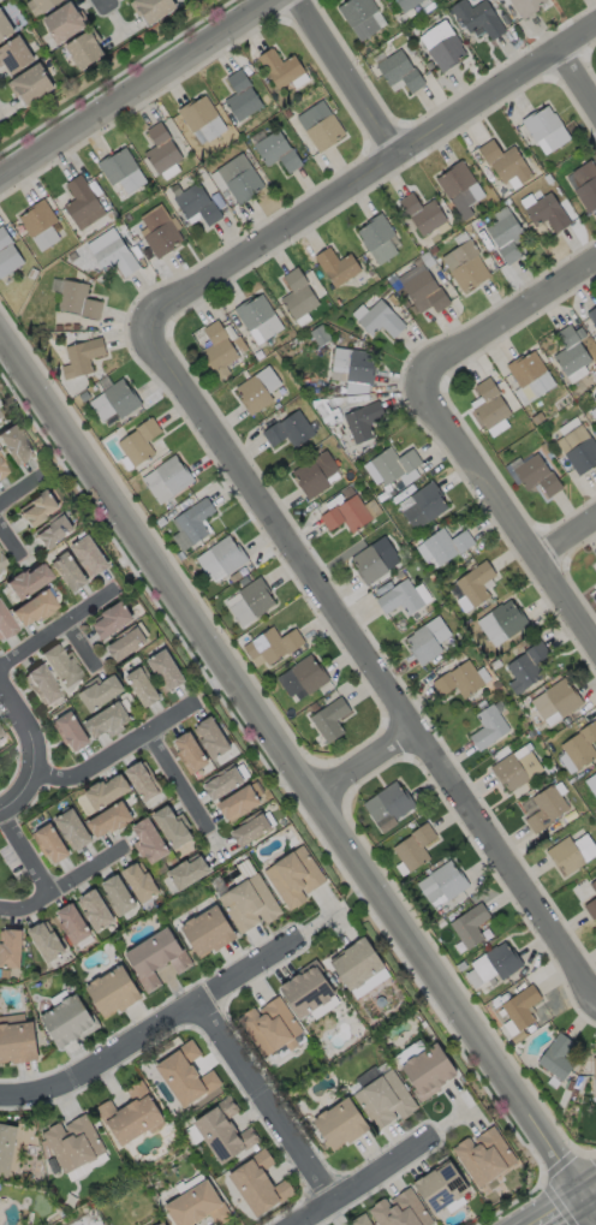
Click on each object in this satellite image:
road: (106, 2)
building: (407, 4)
building: (48, 5)
building: (526, 6)
building: (155, 8)
building: (363, 18)
building: (481, 20)
building: (65, 23)
building: (5, 26)
building: (445, 47)
building: (87, 50)
building: (17, 55)
building: (281, 69)
building: (400, 71)
road: (115, 76)
road: (348, 76)
road: (578, 79)
building: (31, 85)
road: (138, 90)
building: (244, 99)
building: (204, 119)
building: (320, 126)
building: (549, 130)
building: (162, 149)
building: (279, 150)
building: (506, 163)
building: (123, 172)
road: (366, 174)
building: (242, 178)
building: (585, 184)
building: (461, 194)
building: (197, 203)
building: (84, 204)
building: (424, 215)
building: (548, 215)
building: (43, 226)
building: (160, 233)
building: (505, 237)
building: (381, 240)
building: (8, 255)
building: (113, 257)
building: (467, 267)
building: (339, 268)
building: (427, 290)
building: (298, 293)
building: (74, 301)
building: (595, 310)
building: (594, 316)
road: (506, 317)
building: (261, 319)
building: (382, 320)
building: (223, 347)
building: (574, 356)
building: (83, 359)
building: (353, 367)
building: (532, 380)
building: (255, 396)
building: (120, 403)
building: (494, 410)
building: (595, 414)
building: (595, 418)
building: (364, 421)
building: (291, 432)
building: (141, 445)
building: (14, 447)
building: (580, 451)
building: (397, 466)
building: (1, 471)
building: (318, 475)
building: (540, 477)
building: (166, 480)
road: (23, 492)
building: (425, 506)
building: (37, 509)
road: (505, 511)
building: (348, 516)
building: (193, 524)
building: (53, 531)
road: (566, 539)
road: (8, 543)
building: (447, 548)
building: (90, 557)
building: (221, 559)
building: (376, 561)
building: (0, 565)
building: (68, 573)
building: (594, 576)
building: (25, 582)
building: (472, 589)
building: (404, 599)
building: (251, 603)
building: (30, 609)
building: (113, 620)
building: (505, 624)
building: (4, 625)
road: (58, 629)
building: (428, 642)
building: (127, 644)
building: (275, 646)
road: (79, 647)
road: (369, 662)
building: (496, 665)
building: (58, 666)
building: (526, 670)
building: (166, 672)
building: (303, 679)
building: (464, 680)
building: (38, 685)
building: (143, 689)
building: (97, 696)
building: (556, 704)
building: (327, 721)
building: (106, 722)
building: (490, 731)
building: (68, 733)
building: (0, 736)
building: (214, 738)
building: (582, 750)
road: (114, 753)
building: (190, 753)
road: (29, 755)
road: (291, 760)
road: (365, 765)
building: (519, 771)
road: (175, 781)
building: (141, 783)
building: (225, 784)
building: (591, 785)
building: (107, 792)
building: (239, 804)
building: (391, 807)
building: (547, 809)
building: (109, 822)
building: (172, 827)
building: (72, 832)
building: (252, 832)
building: (150, 840)
building: (49, 845)
building: (415, 850)
road: (25, 854)
building: (572, 855)
building: (169, 860)
building: (243, 870)
building: (190, 874)
building: (297, 878)
building: (451, 881)
building: (141, 882)
building: (594, 886)
road: (62, 887)
building: (118, 896)
building: (250, 906)
building: (592, 910)
building: (96, 912)
building: (72, 926)
building: (207, 929)
building: (470, 929)
building: (44, 944)
building: (10, 951)
building: (157, 961)
building: (360, 967)
building: (497, 967)
building: (310, 993)
building: (113, 994)
building: (546, 1007)
building: (521, 1010)
building: (70, 1023)
road: (151, 1028)
building: (273, 1028)
building: (18, 1045)
building: (558, 1059)
building: (431, 1072)
building: (595, 1072)
building: (189, 1075)
road: (264, 1101)
building: (386, 1101)
building: (133, 1118)
building: (342, 1126)
building: (227, 1132)
building: (77, 1146)
building: (8, 1149)
building: (485, 1158)
road: (364, 1181)
building: (262, 1188)
building: (443, 1189)
road: (591, 1193)
road: (591, 1202)
building: (201, 1209)
building: (403, 1211)
road: (562, 1211)
building: (363, 1221)
building: (160, 1223)

